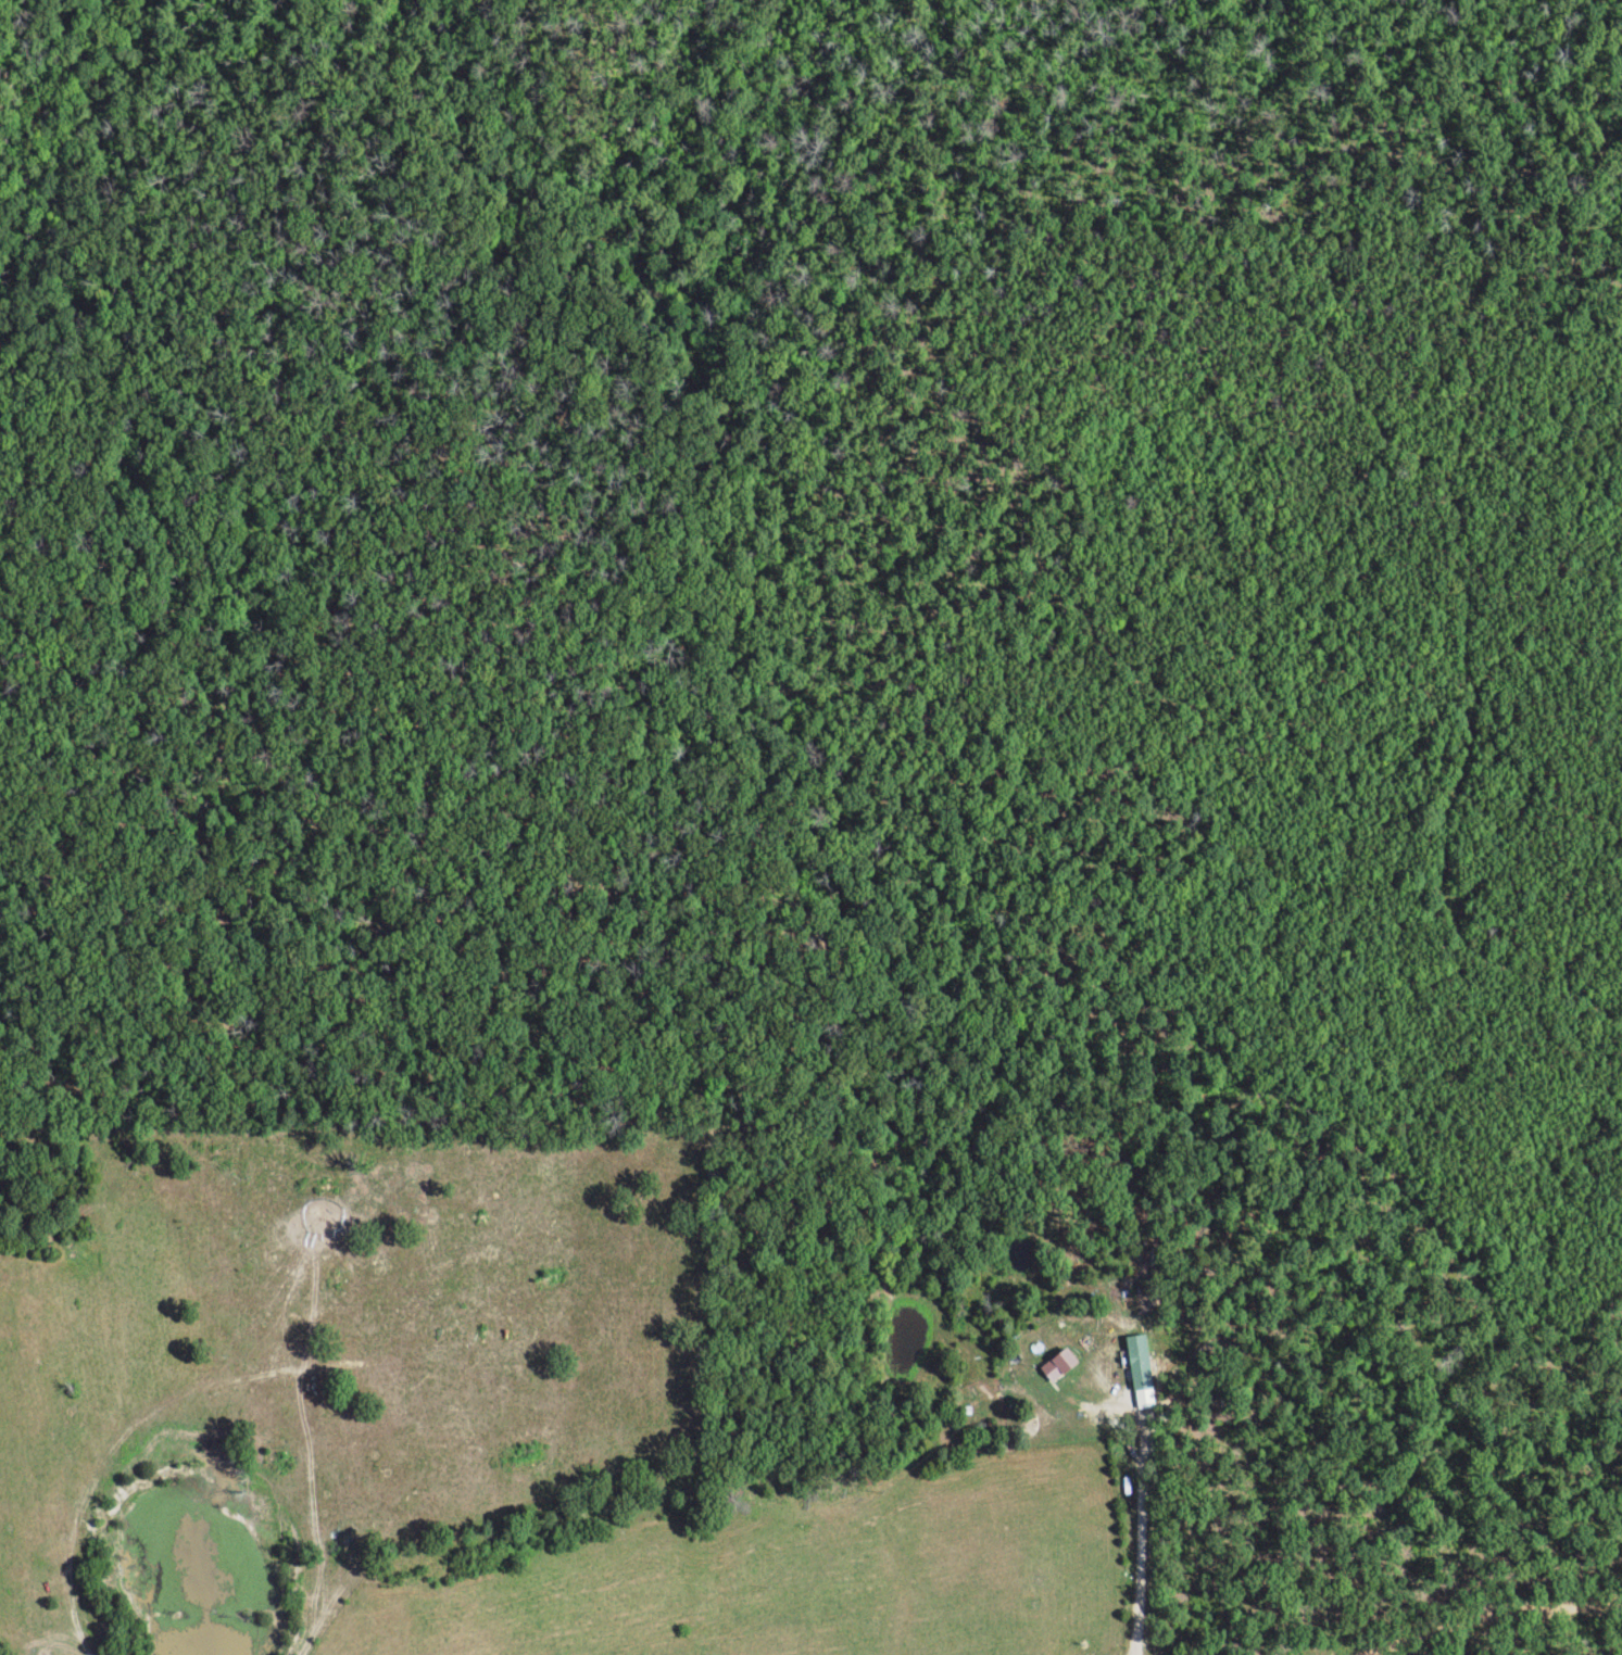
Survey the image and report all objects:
building: (1148, 1370)
road: (1509, 1614)

